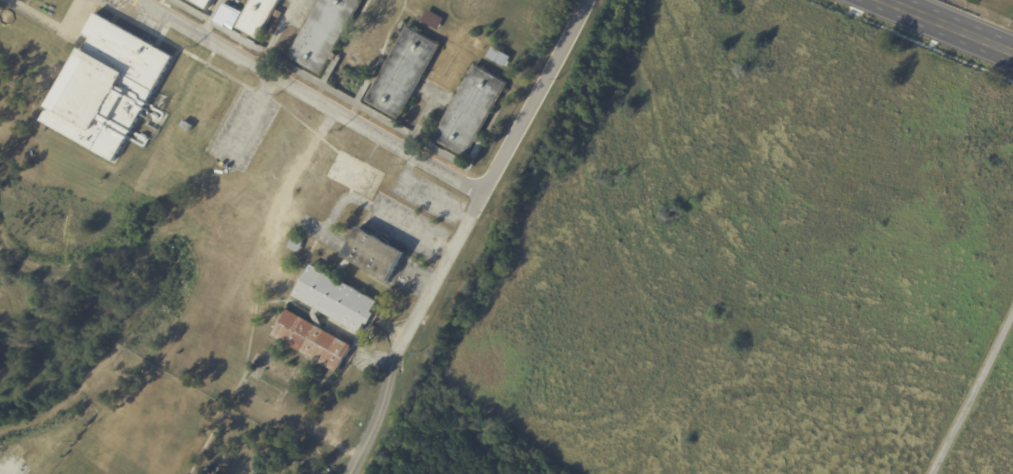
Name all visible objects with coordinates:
building: (201, 4)
building: (187, 10)
building: (228, 16)
building: (433, 20)
building: (252, 24)
road: (949, 25)
building: (477, 45)
building: (499, 58)
building: (399, 81)
building: (107, 87)
road: (311, 96)
building: (187, 128)
building: (89, 177)
building: (101, 183)
road: (423, 191)
road: (461, 232)
building: (297, 245)
park: (739, 262)
building: (338, 300)
road: (97, 371)
road: (973, 393)

